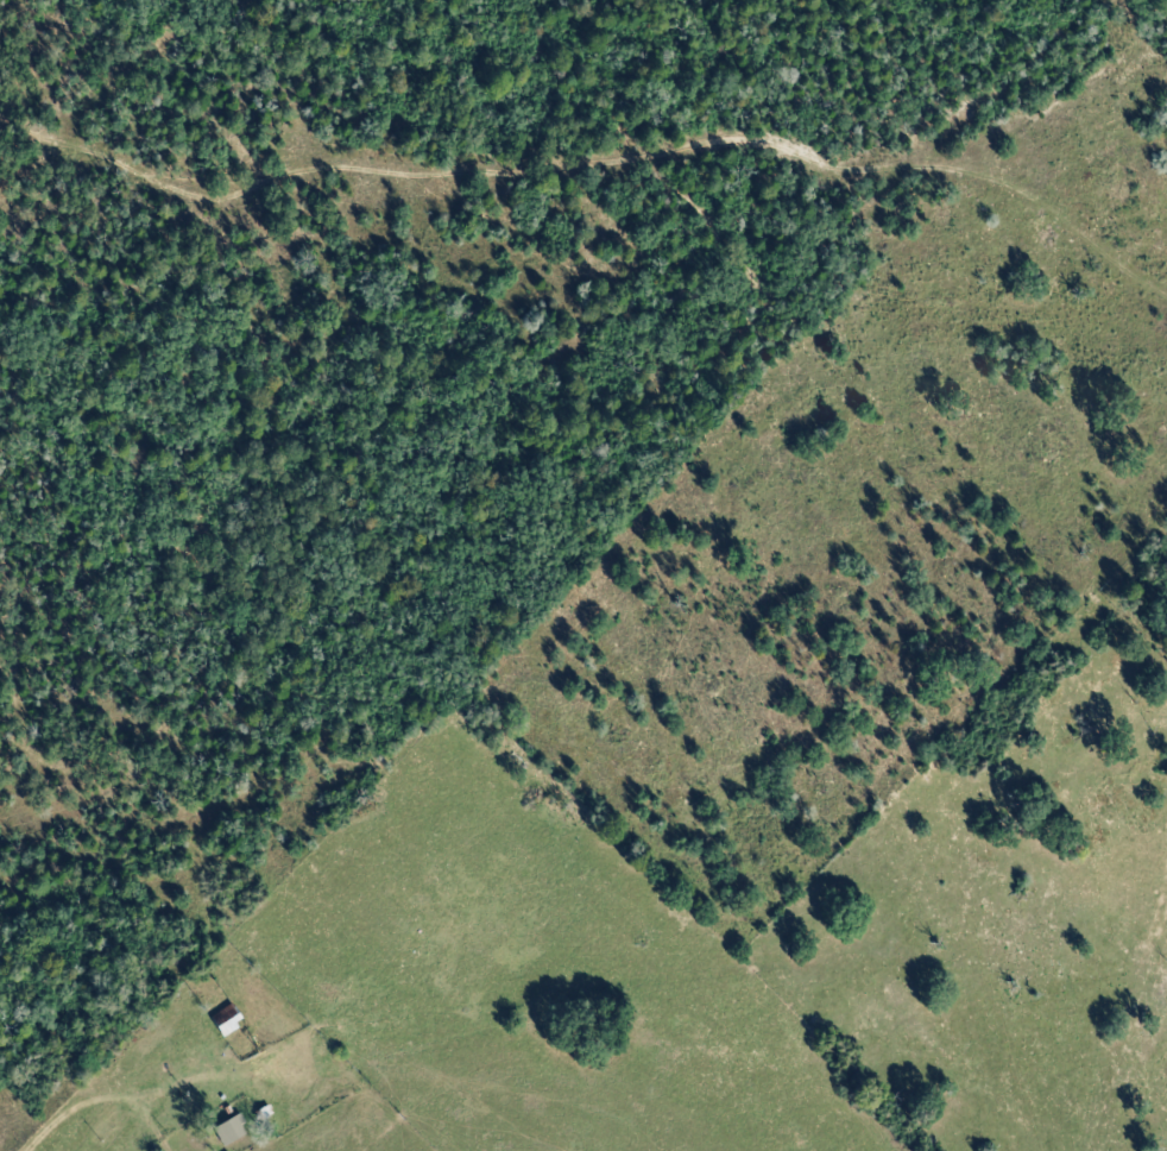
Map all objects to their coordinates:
building: (228, 1019)
building: (233, 1130)
road: (43, 1149)

